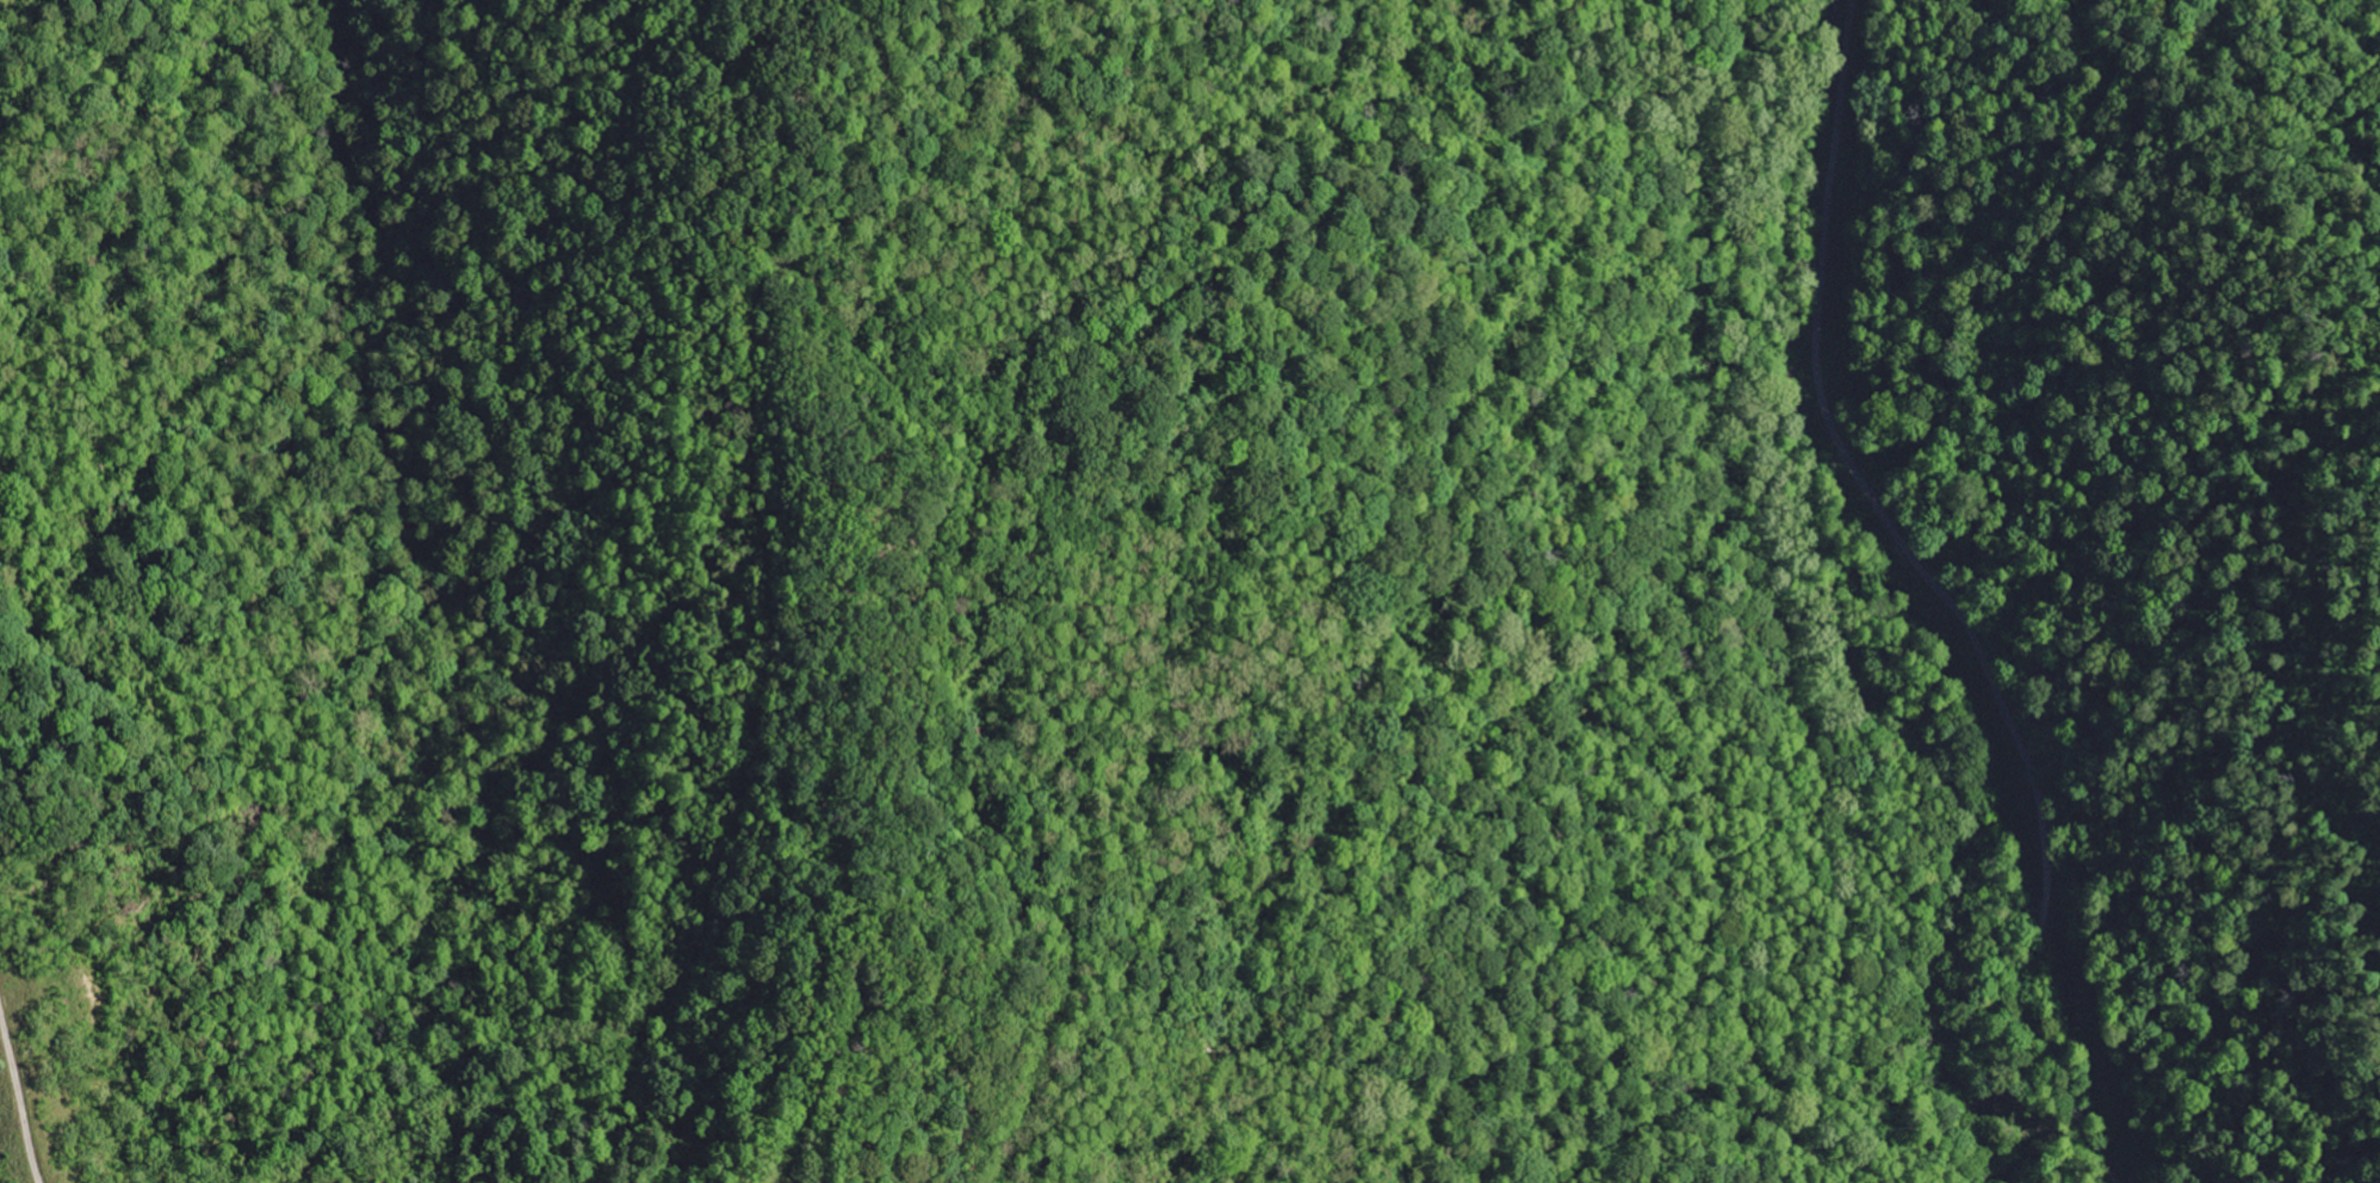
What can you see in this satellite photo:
road: (1944, 594)

